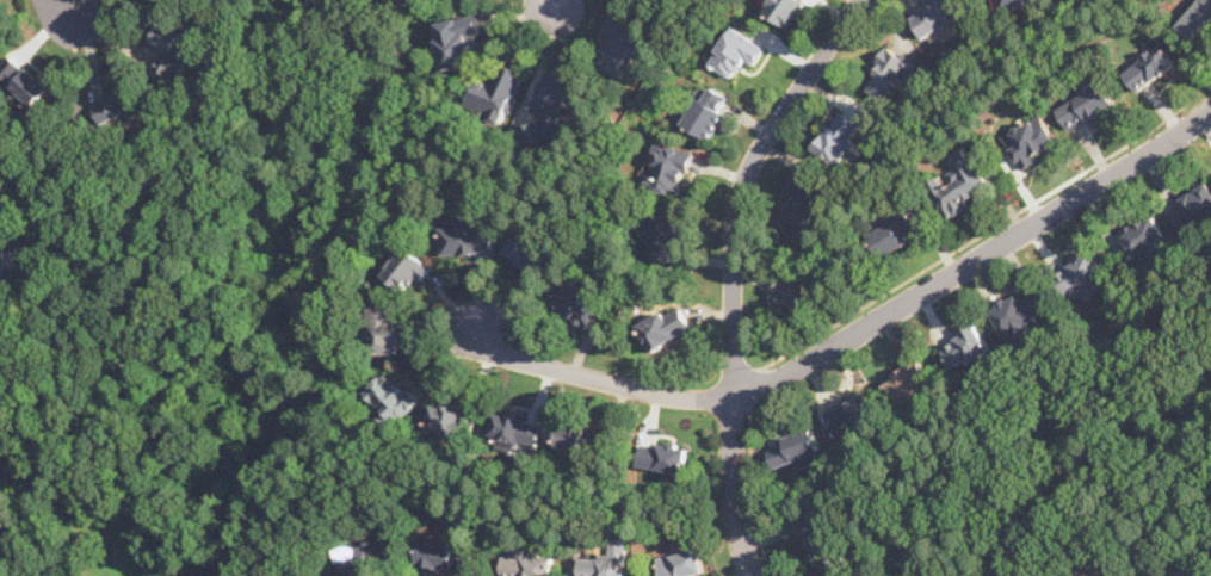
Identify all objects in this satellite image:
building: (1013, 2)
road: (555, 6)
road: (62, 7)
building: (784, 8)
building: (934, 13)
building: (1195, 16)
building: (463, 41)
building: (622, 44)
building: (169, 49)
building: (736, 49)
building: (1149, 66)
building: (891, 73)
building: (21, 79)
building: (498, 92)
building: (115, 101)
building: (556, 103)
building: (1085, 103)
building: (706, 109)
building: (840, 136)
building: (1028, 138)
building: (669, 169)
building: (957, 181)
building: (803, 203)
building: (1192, 206)
park: (311, 211)
road: (989, 227)
building: (895, 231)
building: (469, 236)
building: (663, 236)
building: (1145, 241)
building: (532, 252)
building: (409, 267)
building: (4, 268)
road: (733, 271)
building: (1081, 274)
building: (795, 291)
building: (577, 303)
road: (157, 306)
building: (1020, 310)
building: (665, 324)
building: (388, 328)
road: (855, 333)
building: (965, 346)
building: (907, 382)
road: (753, 386)
building: (394, 396)
building: (851, 413)
building: (452, 421)
building: (515, 431)
building: (577, 436)
building: (793, 446)
building: (663, 454)
building: (813, 457)
road: (750, 491)
building: (824, 546)
building: (365, 553)
building: (445, 555)
building: (605, 559)
building: (527, 563)
building: (680, 563)
building: (1188, 571)

